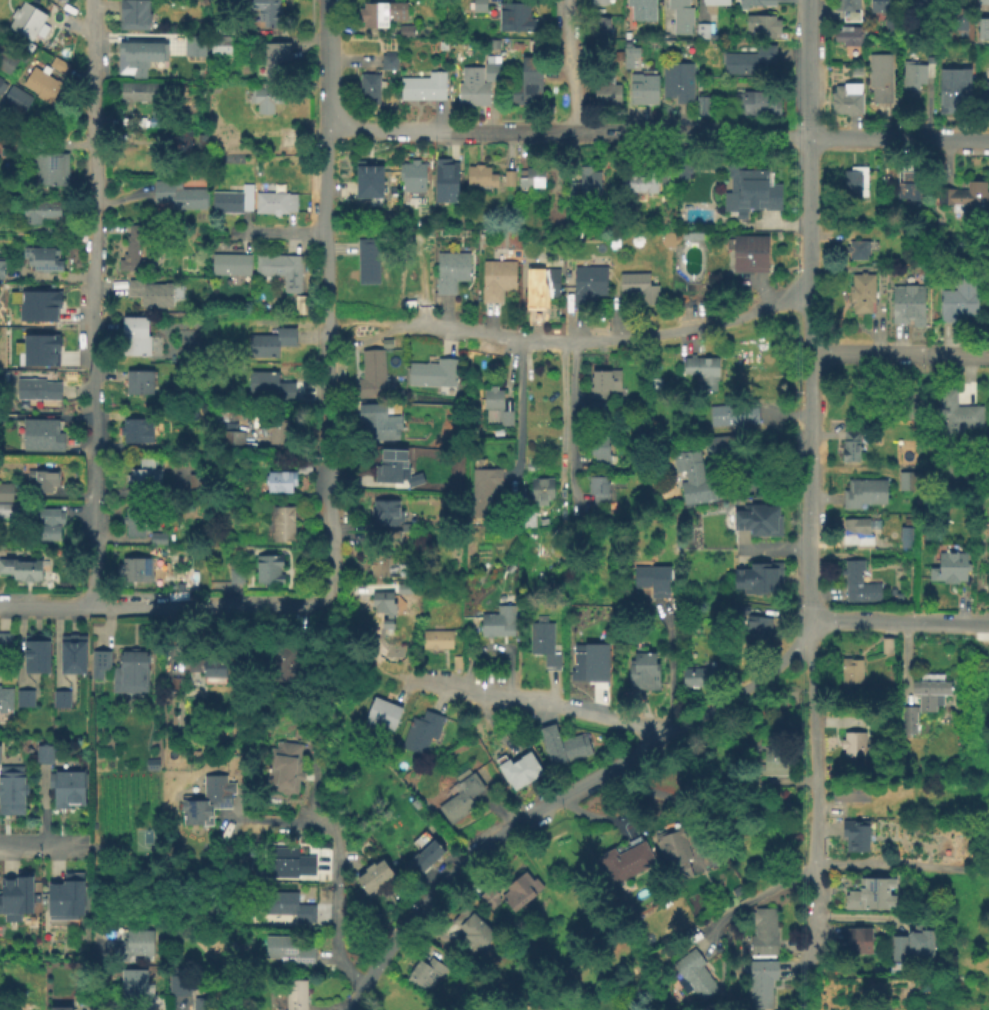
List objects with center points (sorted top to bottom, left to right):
building: (236, 1)
building: (714, 1)
building: (597, 2)
building: (752, 2)
building: (982, 2)
building: (921, 3)
building: (478, 5)
building: (845, 5)
building: (988, 5)
building: (641, 9)
building: (266, 11)
building: (381, 12)
building: (887, 13)
building: (133, 14)
road: (326, 15)
building: (514, 16)
building: (680, 16)
building: (950, 17)
building: (963, 17)
building: (26, 18)
building: (958, 22)
building: (761, 24)
building: (598, 25)
road: (73, 26)
building: (982, 26)
building: (223, 27)
building: (406, 29)
building: (701, 29)
building: (848, 34)
building: (194, 43)
building: (219, 43)
building: (496, 43)
building: (536, 47)
building: (629, 54)
building: (137, 55)
building: (7, 58)
building: (277, 59)
building: (748, 59)
building: (388, 60)
road: (93, 62)
building: (985, 62)
building: (58, 64)
road: (573, 65)
building: (855, 70)
building: (916, 71)
building: (880, 75)
building: (528, 80)
building: (677, 80)
building: (477, 82)
building: (42, 84)
building: (1, 85)
building: (423, 85)
building: (604, 85)
building: (369, 87)
building: (643, 88)
building: (984, 88)
building: (954, 89)
building: (140, 90)
building: (16, 94)
building: (264, 95)
building: (845, 98)
building: (759, 102)
building: (702, 104)
building: (155, 117)
road: (383, 129)
road: (597, 131)
road: (779, 137)
road: (897, 139)
building: (178, 148)
building: (44, 165)
building: (680, 167)
building: (412, 174)
building: (479, 174)
building: (531, 175)
building: (643, 176)
building: (508, 177)
building: (446, 179)
building: (590, 179)
building: (368, 180)
building: (855, 181)
building: (907, 182)
building: (570, 187)
road: (337, 188)
building: (749, 188)
building: (963, 193)
building: (178, 194)
building: (231, 199)
building: (274, 200)
building: (39, 209)
road: (275, 230)
building: (691, 234)
building: (666, 238)
building: (132, 246)
building: (856, 248)
building: (747, 251)
building: (40, 257)
building: (366, 258)
building: (230, 263)
building: (1, 268)
building: (279, 268)
building: (450, 269)
road: (51, 274)
building: (497, 277)
building: (587, 283)
building: (540, 285)
building: (639, 286)
building: (150, 291)
building: (860, 291)
building: (959, 297)
park: (689, 303)
building: (907, 303)
building: (38, 304)
road: (808, 309)
road: (325, 314)
road: (368, 320)
building: (134, 335)
road: (610, 339)
building: (271, 340)
building: (385, 341)
building: (39, 349)
road: (898, 353)
road: (93, 365)
road: (511, 367)
building: (701, 368)
building: (432, 372)
building: (370, 374)
building: (138, 380)
building: (598, 382)
building: (656, 382)
building: (269, 383)
building: (37, 387)
road: (577, 394)
building: (912, 398)
building: (495, 403)
road: (517, 410)
building: (953, 410)
building: (731, 412)
building: (378, 420)
road: (561, 420)
road: (570, 422)
building: (136, 429)
building: (278, 432)
building: (41, 433)
building: (232, 439)
building: (722, 443)
building: (849, 444)
building: (600, 448)
road: (578, 460)
building: (303, 465)
building: (391, 465)
building: (143, 474)
building: (692, 476)
building: (42, 477)
building: (906, 479)
building: (193, 480)
building: (279, 480)
building: (540, 487)
building: (598, 487)
building: (5, 490)
building: (483, 490)
building: (863, 490)
road: (102, 492)
road: (57, 504)
building: (385, 508)
building: (8, 509)
building: (757, 517)
building: (134, 520)
building: (48, 522)
building: (910, 522)
building: (282, 523)
building: (407, 525)
building: (858, 528)
building: (904, 535)
building: (390, 536)
building: (159, 540)
building: (377, 564)
building: (949, 566)
building: (21, 567)
building: (268, 567)
building: (137, 569)
building: (233, 572)
building: (759, 576)
building: (652, 578)
building: (858, 581)
building: (182, 586)
building: (406, 590)
building: (381, 601)
road: (46, 603)
road: (209, 603)
building: (497, 620)
road: (890, 621)
building: (387, 623)
road: (980, 623)
building: (758, 631)
road: (329, 635)
road: (974, 636)
building: (436, 637)
building: (6, 639)
building: (544, 641)
building: (885, 643)
building: (391, 645)
building: (36, 655)
building: (71, 656)
building: (456, 661)
building: (589, 661)
building: (98, 662)
building: (285, 662)
road: (667, 665)
building: (212, 666)
building: (642, 670)
building: (848, 670)
building: (130, 671)
building: (695, 675)
building: (173, 682)
road: (744, 688)
building: (24, 697)
building: (60, 697)
road: (512, 697)
building: (923, 697)
building: (5, 698)
building: (382, 711)
road: (492, 723)
building: (422, 731)
building: (852, 742)
building: (562, 744)
building: (43, 752)
building: (771, 757)
building: (150, 762)
building: (283, 765)
building: (519, 769)
road: (313, 785)
building: (66, 786)
building: (12, 788)
building: (849, 789)
building: (460, 794)
road: (811, 794)
building: (207, 799)
road: (279, 819)
building: (854, 833)
park: (148, 838)
road: (45, 842)
road: (97, 843)
road: (481, 848)
building: (674, 849)
building: (425, 856)
building: (628, 857)
building: (287, 861)
road: (900, 862)
road: (337, 866)
building: (374, 874)
building: (735, 888)
building: (521, 889)
building: (869, 892)
building: (15, 893)
building: (489, 895)
building: (67, 898)
road: (750, 899)
building: (287, 905)
road: (336, 912)
road: (859, 915)
building: (471, 930)
building: (762, 930)
building: (857, 939)
building: (127, 942)
building: (912, 942)
building: (287, 949)
road: (99, 968)
building: (424, 972)
building: (692, 973)
building: (760, 981)
building: (178, 983)
building: (136, 986)
road: (823, 989)
building: (295, 994)
building: (202, 1003)
building: (60, 1007)

